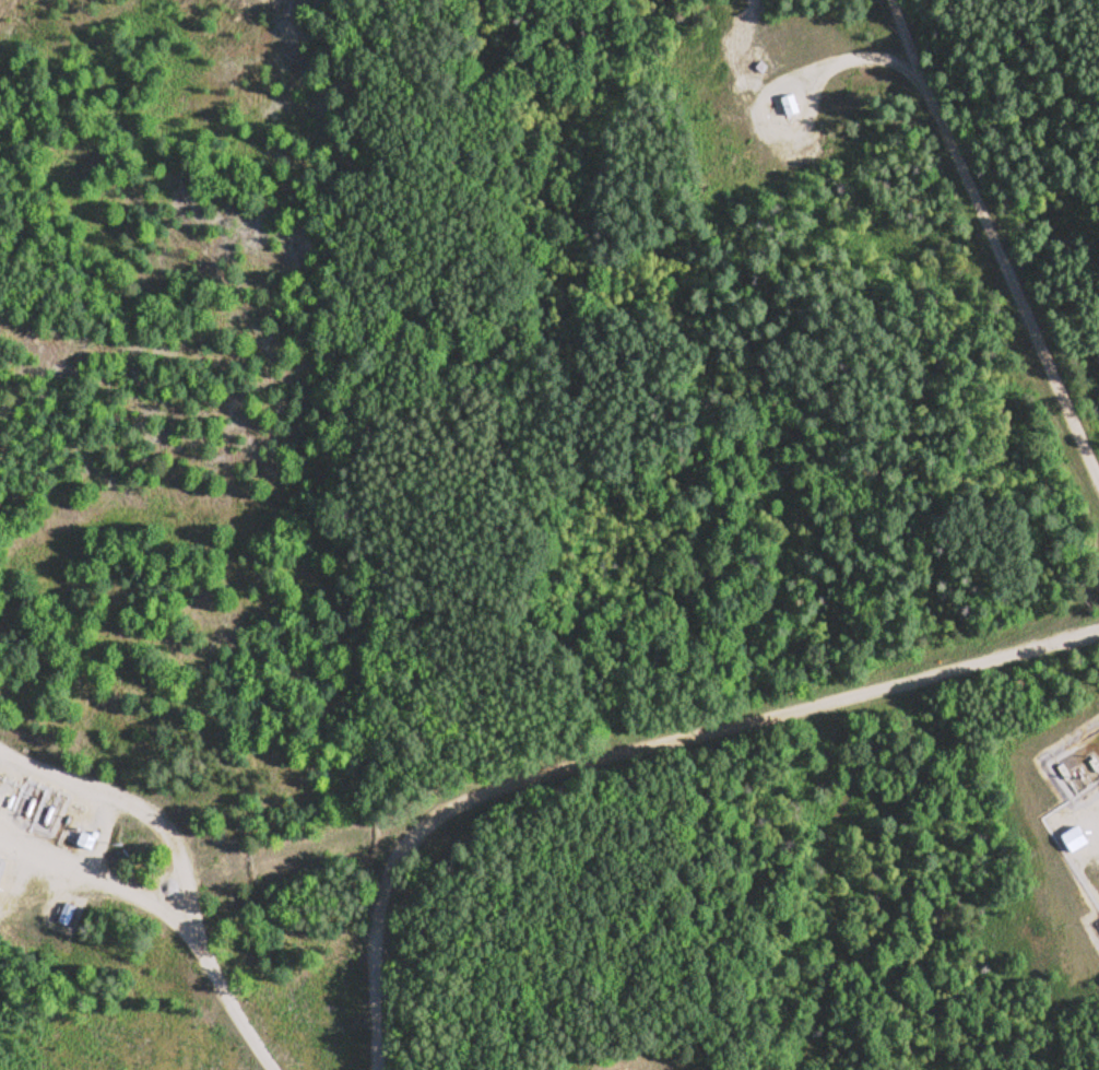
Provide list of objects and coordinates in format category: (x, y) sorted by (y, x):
building: (787, 105)
road: (996, 239)
road: (704, 729)
building: (1071, 838)
building: (83, 839)
road: (174, 871)
building: (62, 913)
building: (1096, 929)
road: (376, 998)

